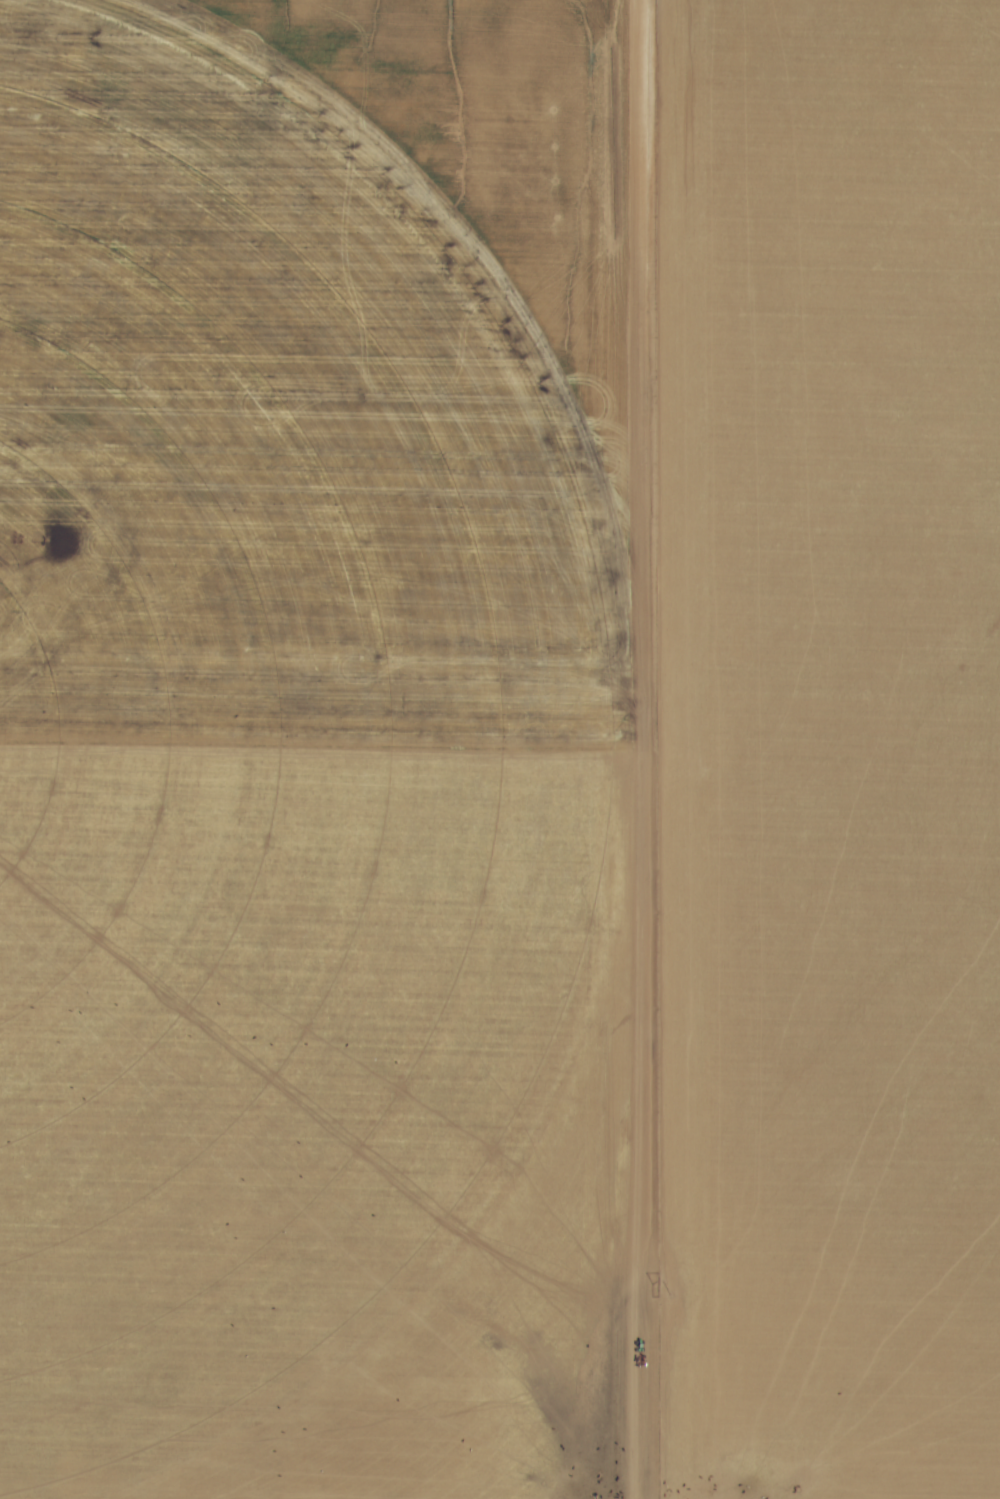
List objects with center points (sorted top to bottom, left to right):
road: (737, 749)

